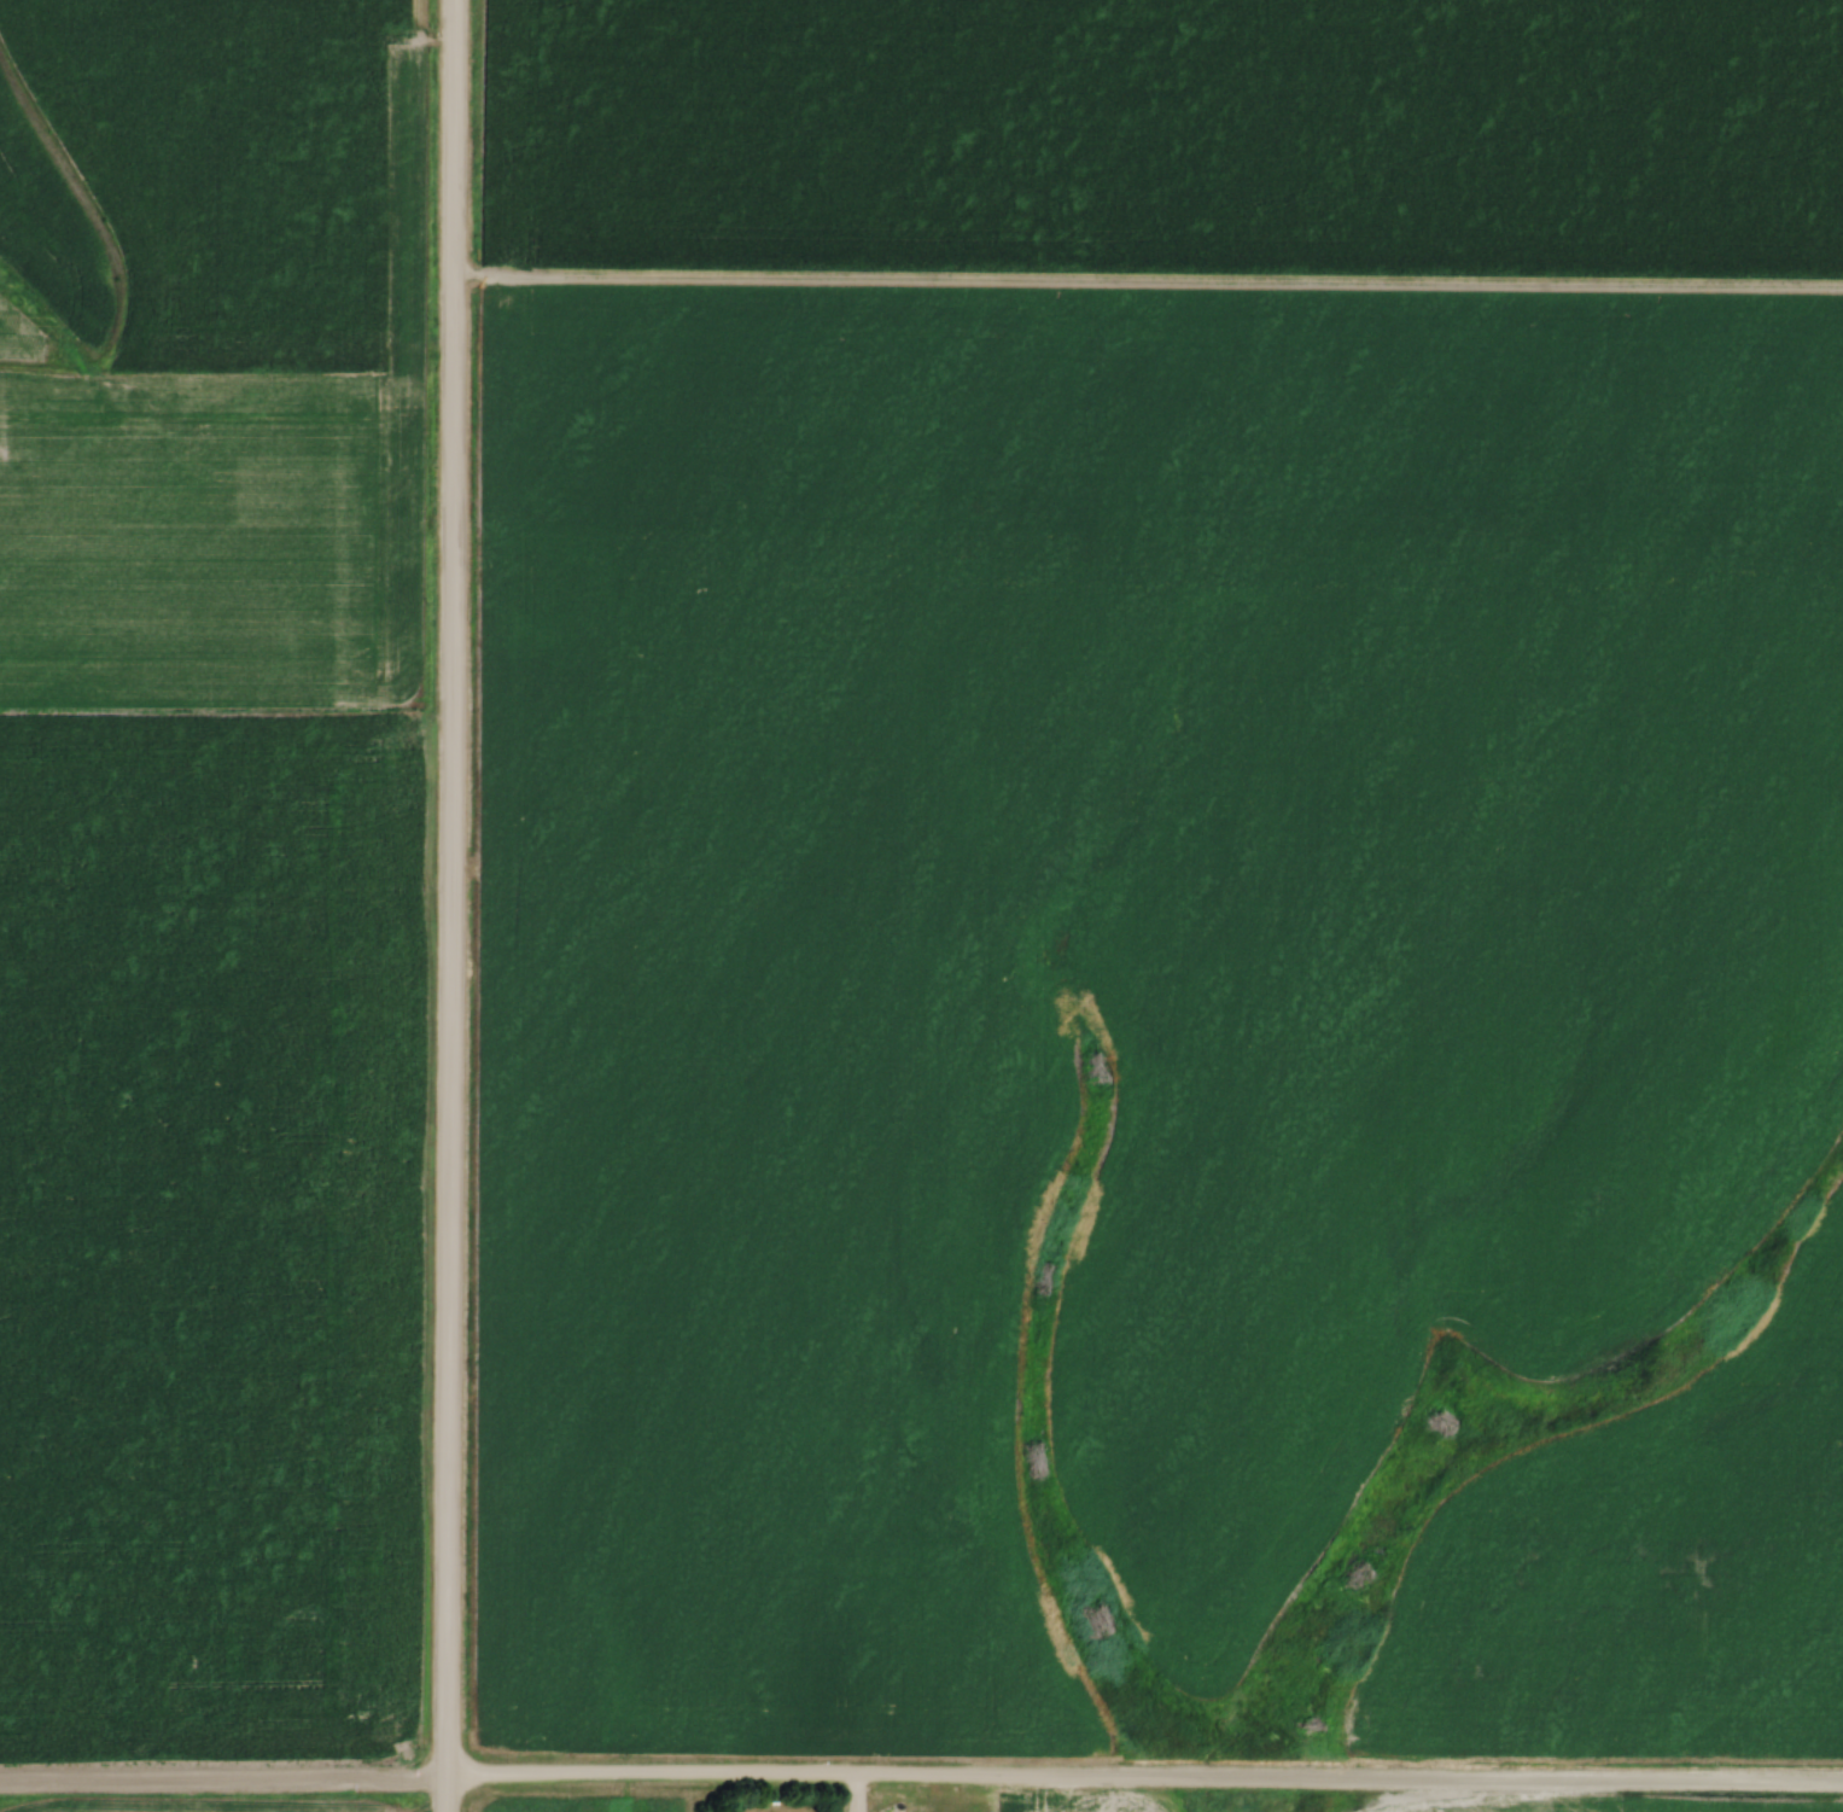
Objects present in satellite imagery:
road: (1147, 284)
road: (445, 905)
road: (921, 1773)
road: (851, 1793)

